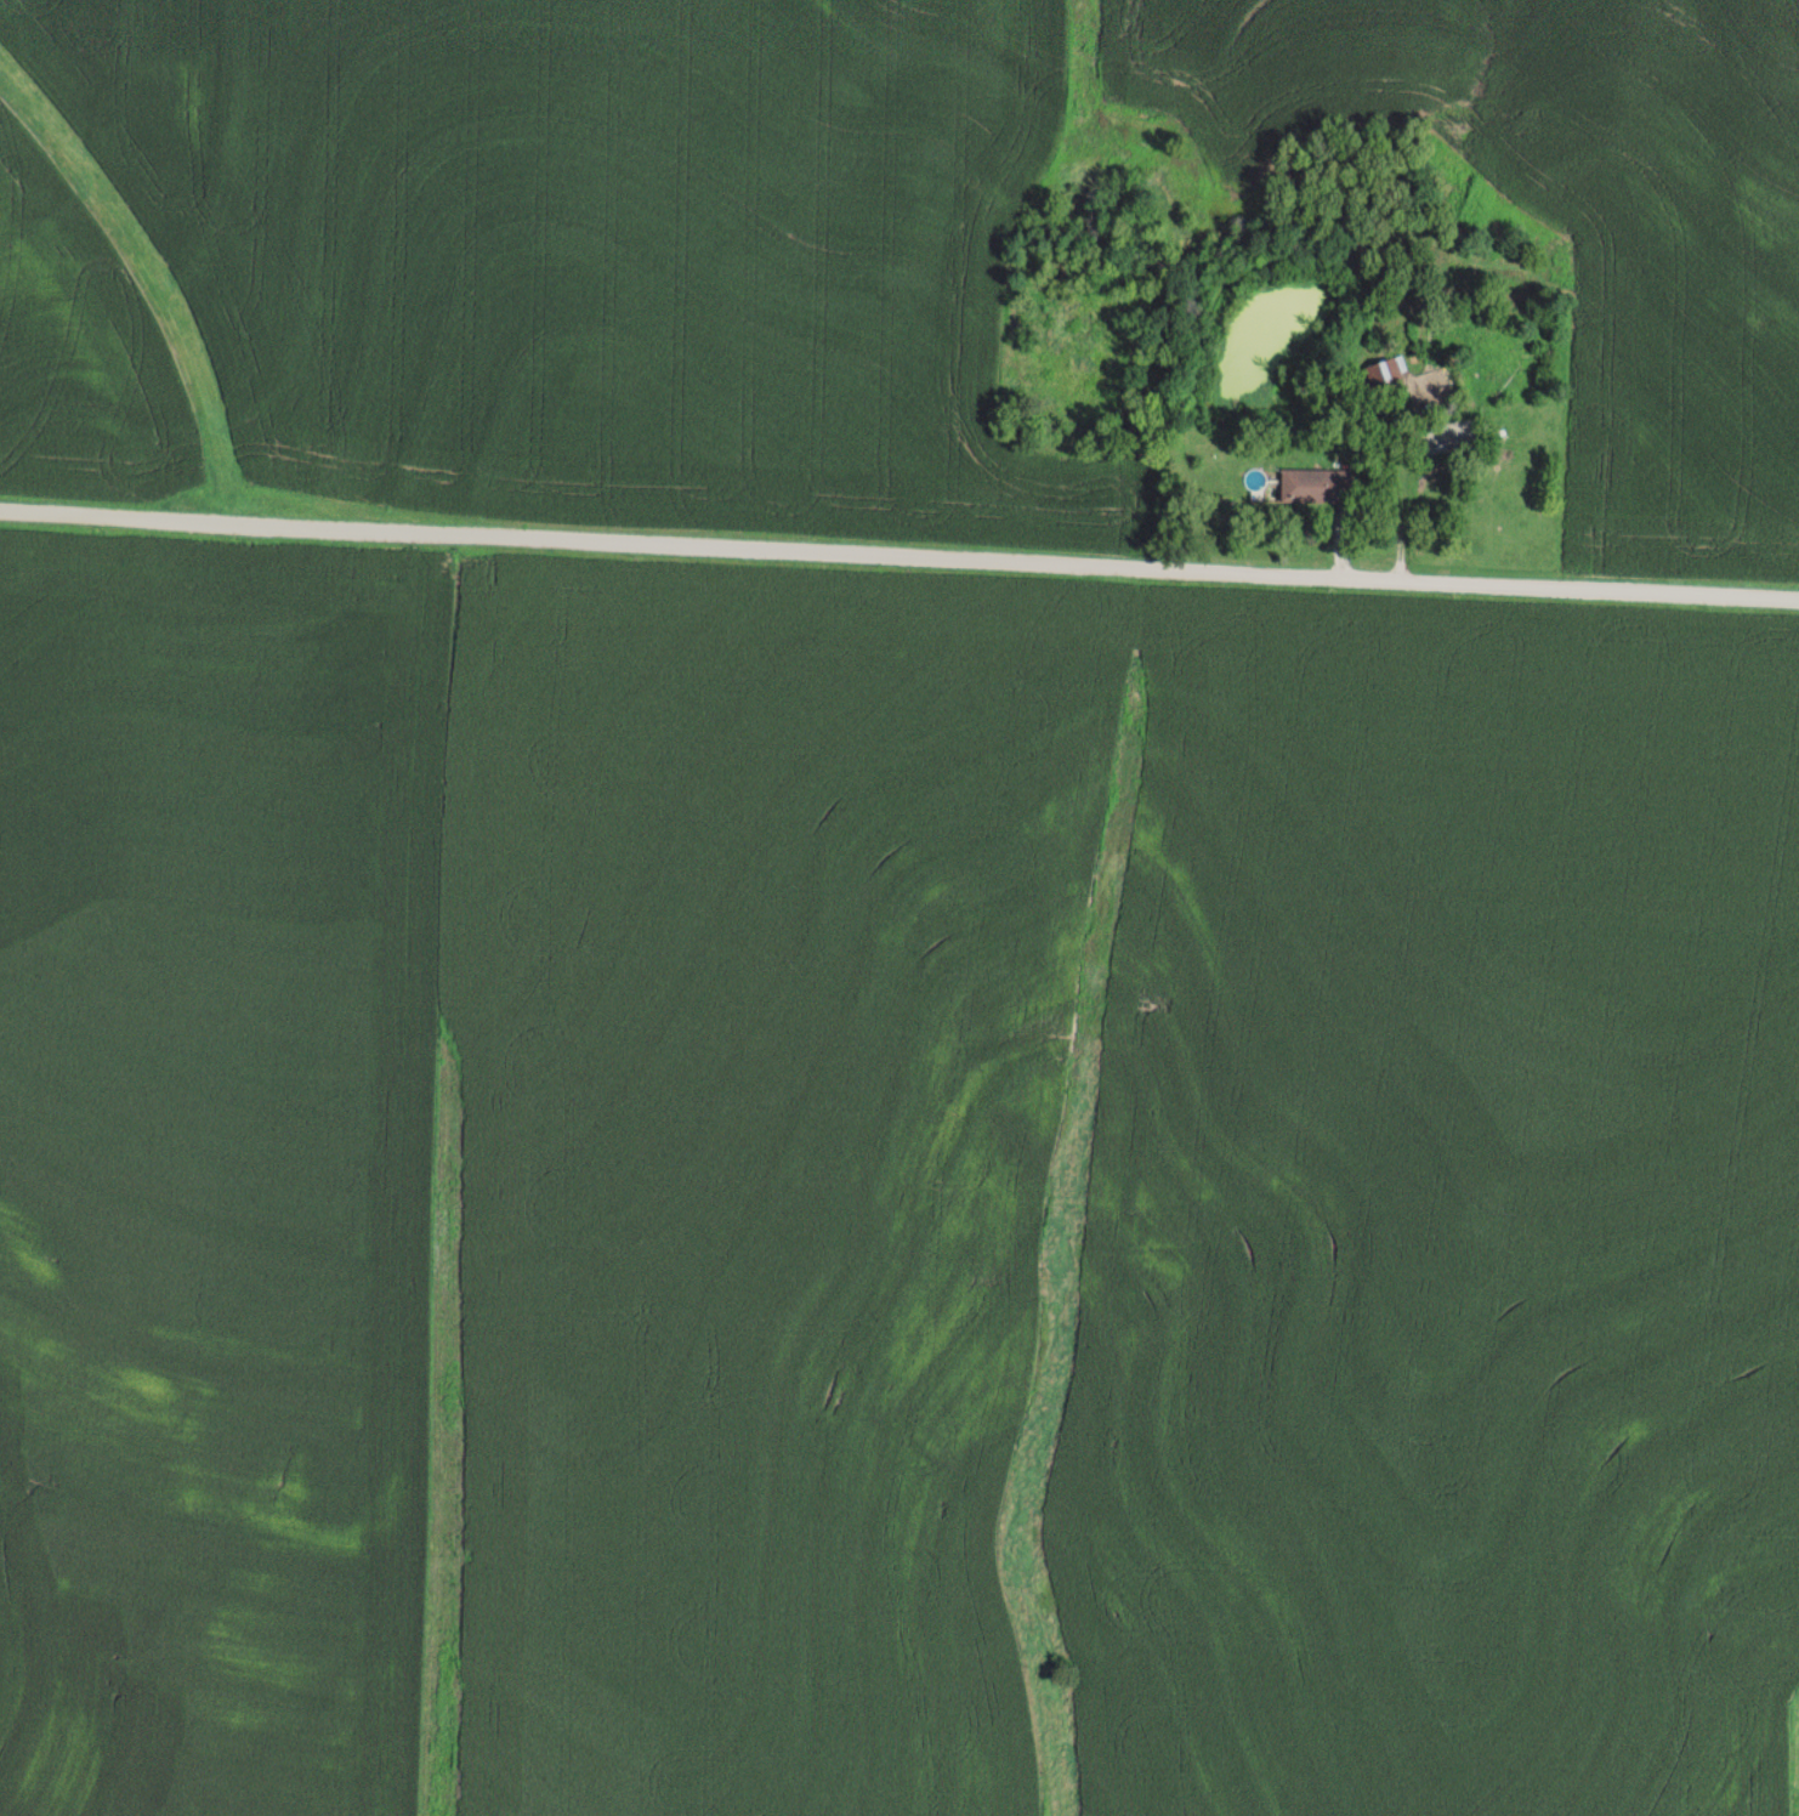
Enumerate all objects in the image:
crop: (827, 248)
building: (1391, 373)
road: (1402, 466)
building: (1318, 484)
road: (898, 555)

